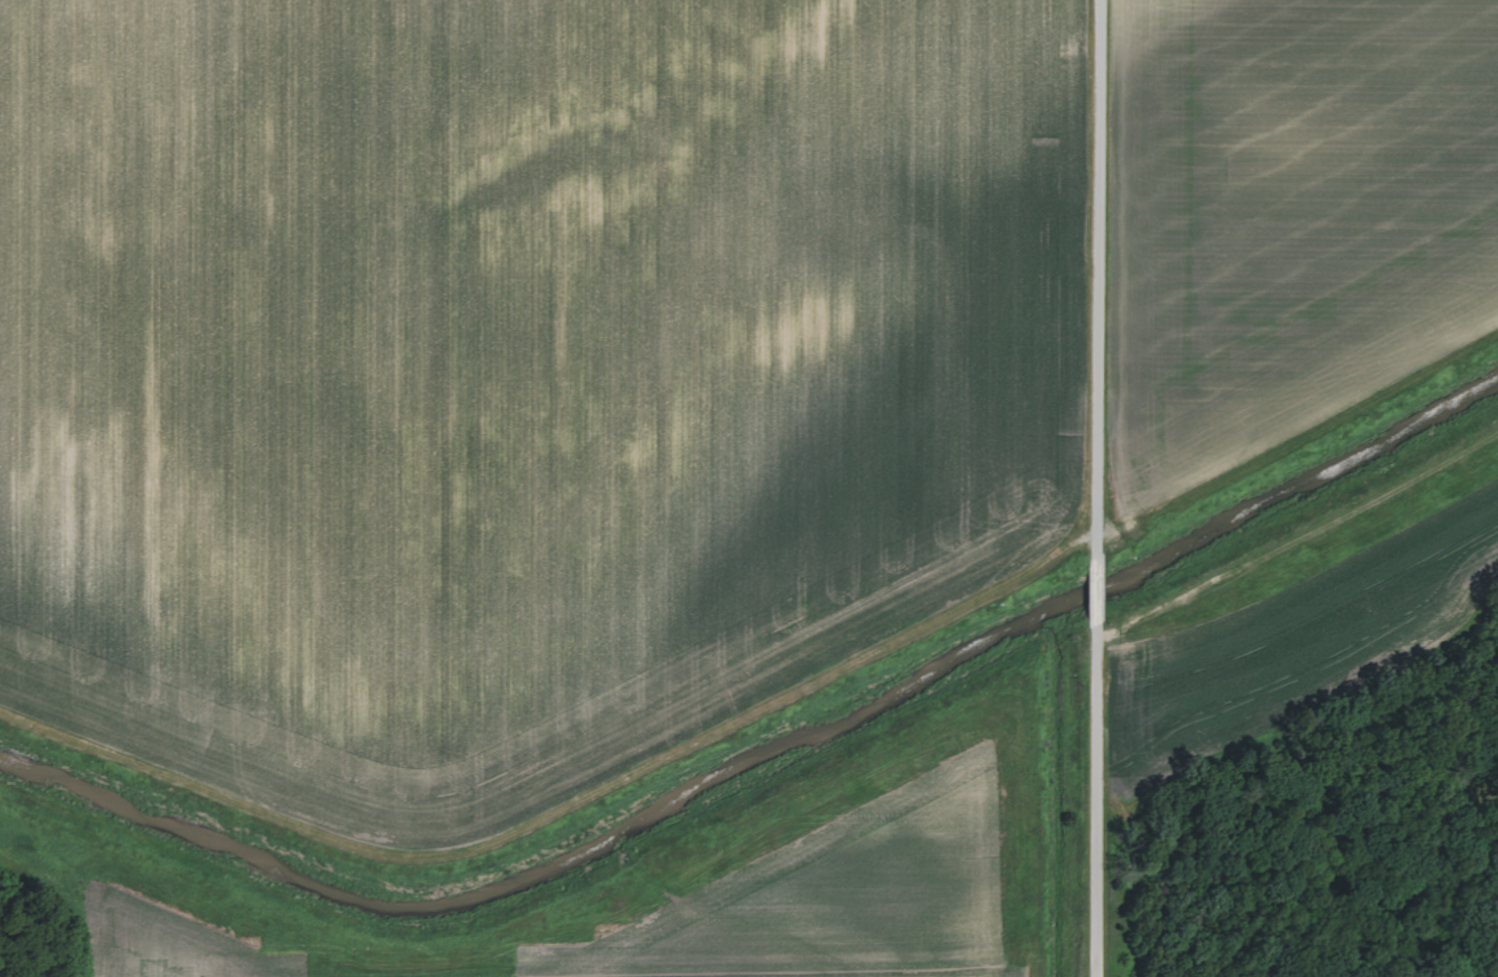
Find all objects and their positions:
road: (1097, 488)

